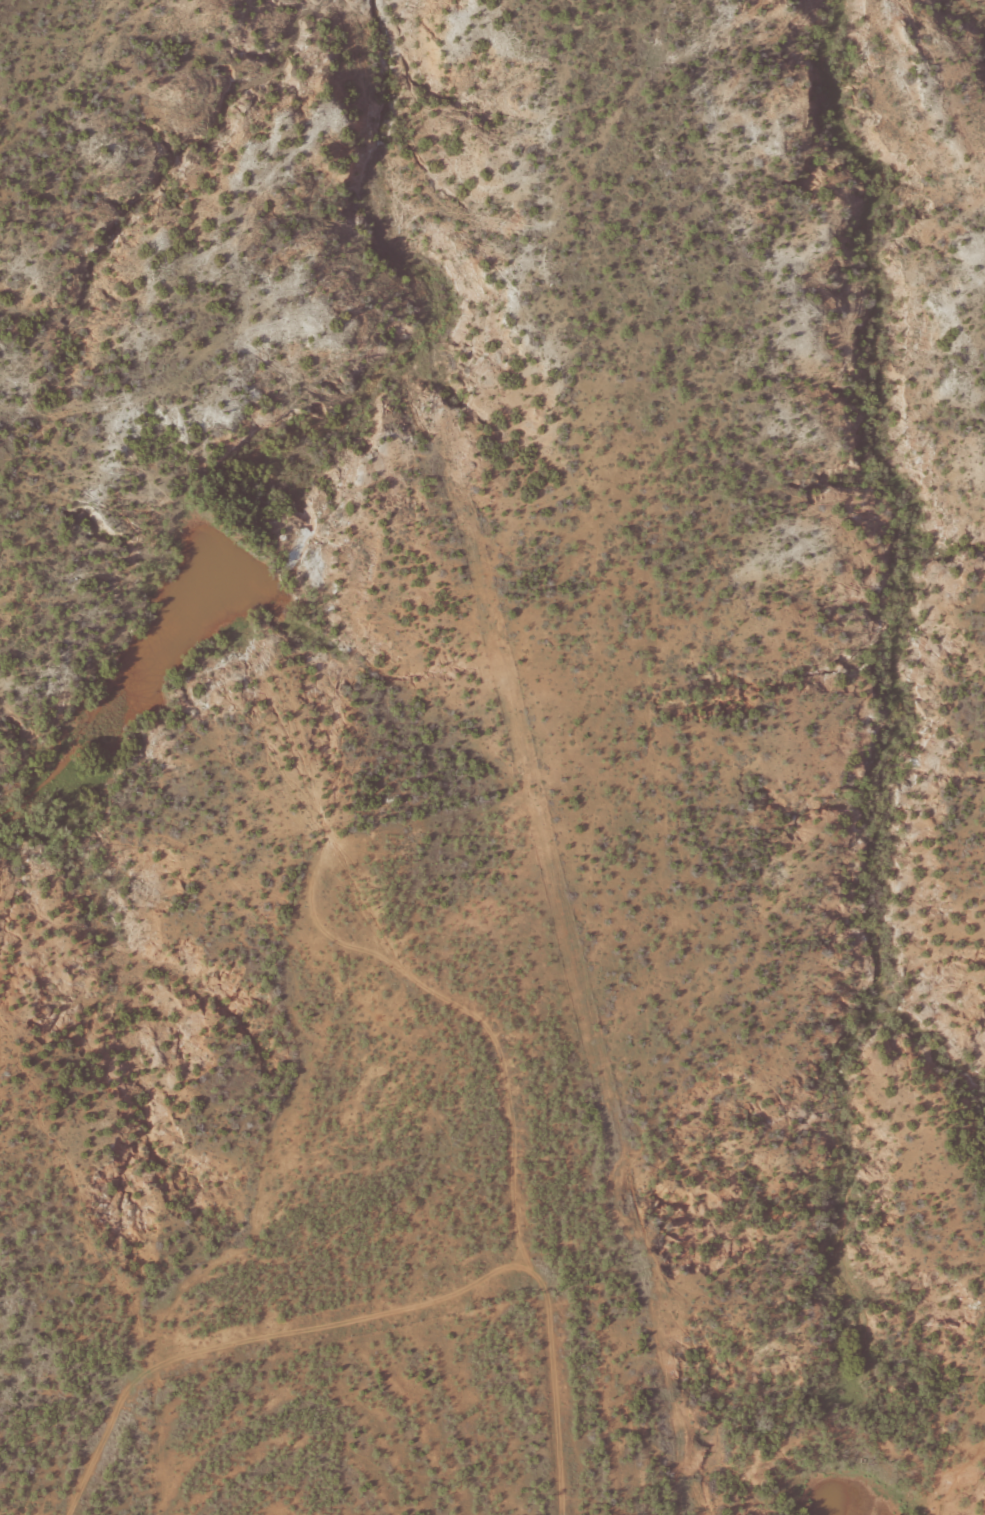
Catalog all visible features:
road: (976, 1458)
road: (64, 1463)

